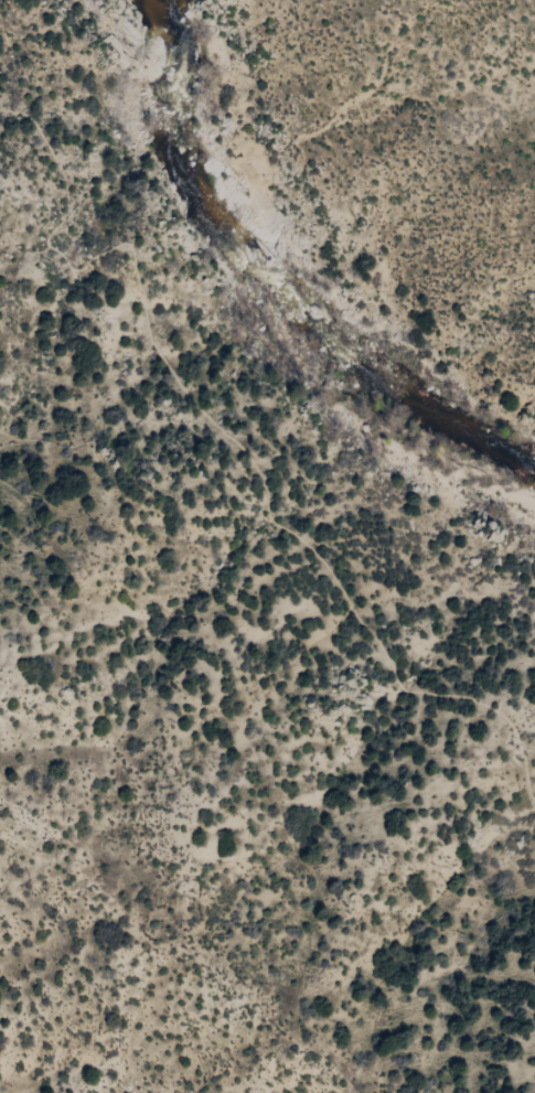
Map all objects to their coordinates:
road: (231, 441)

